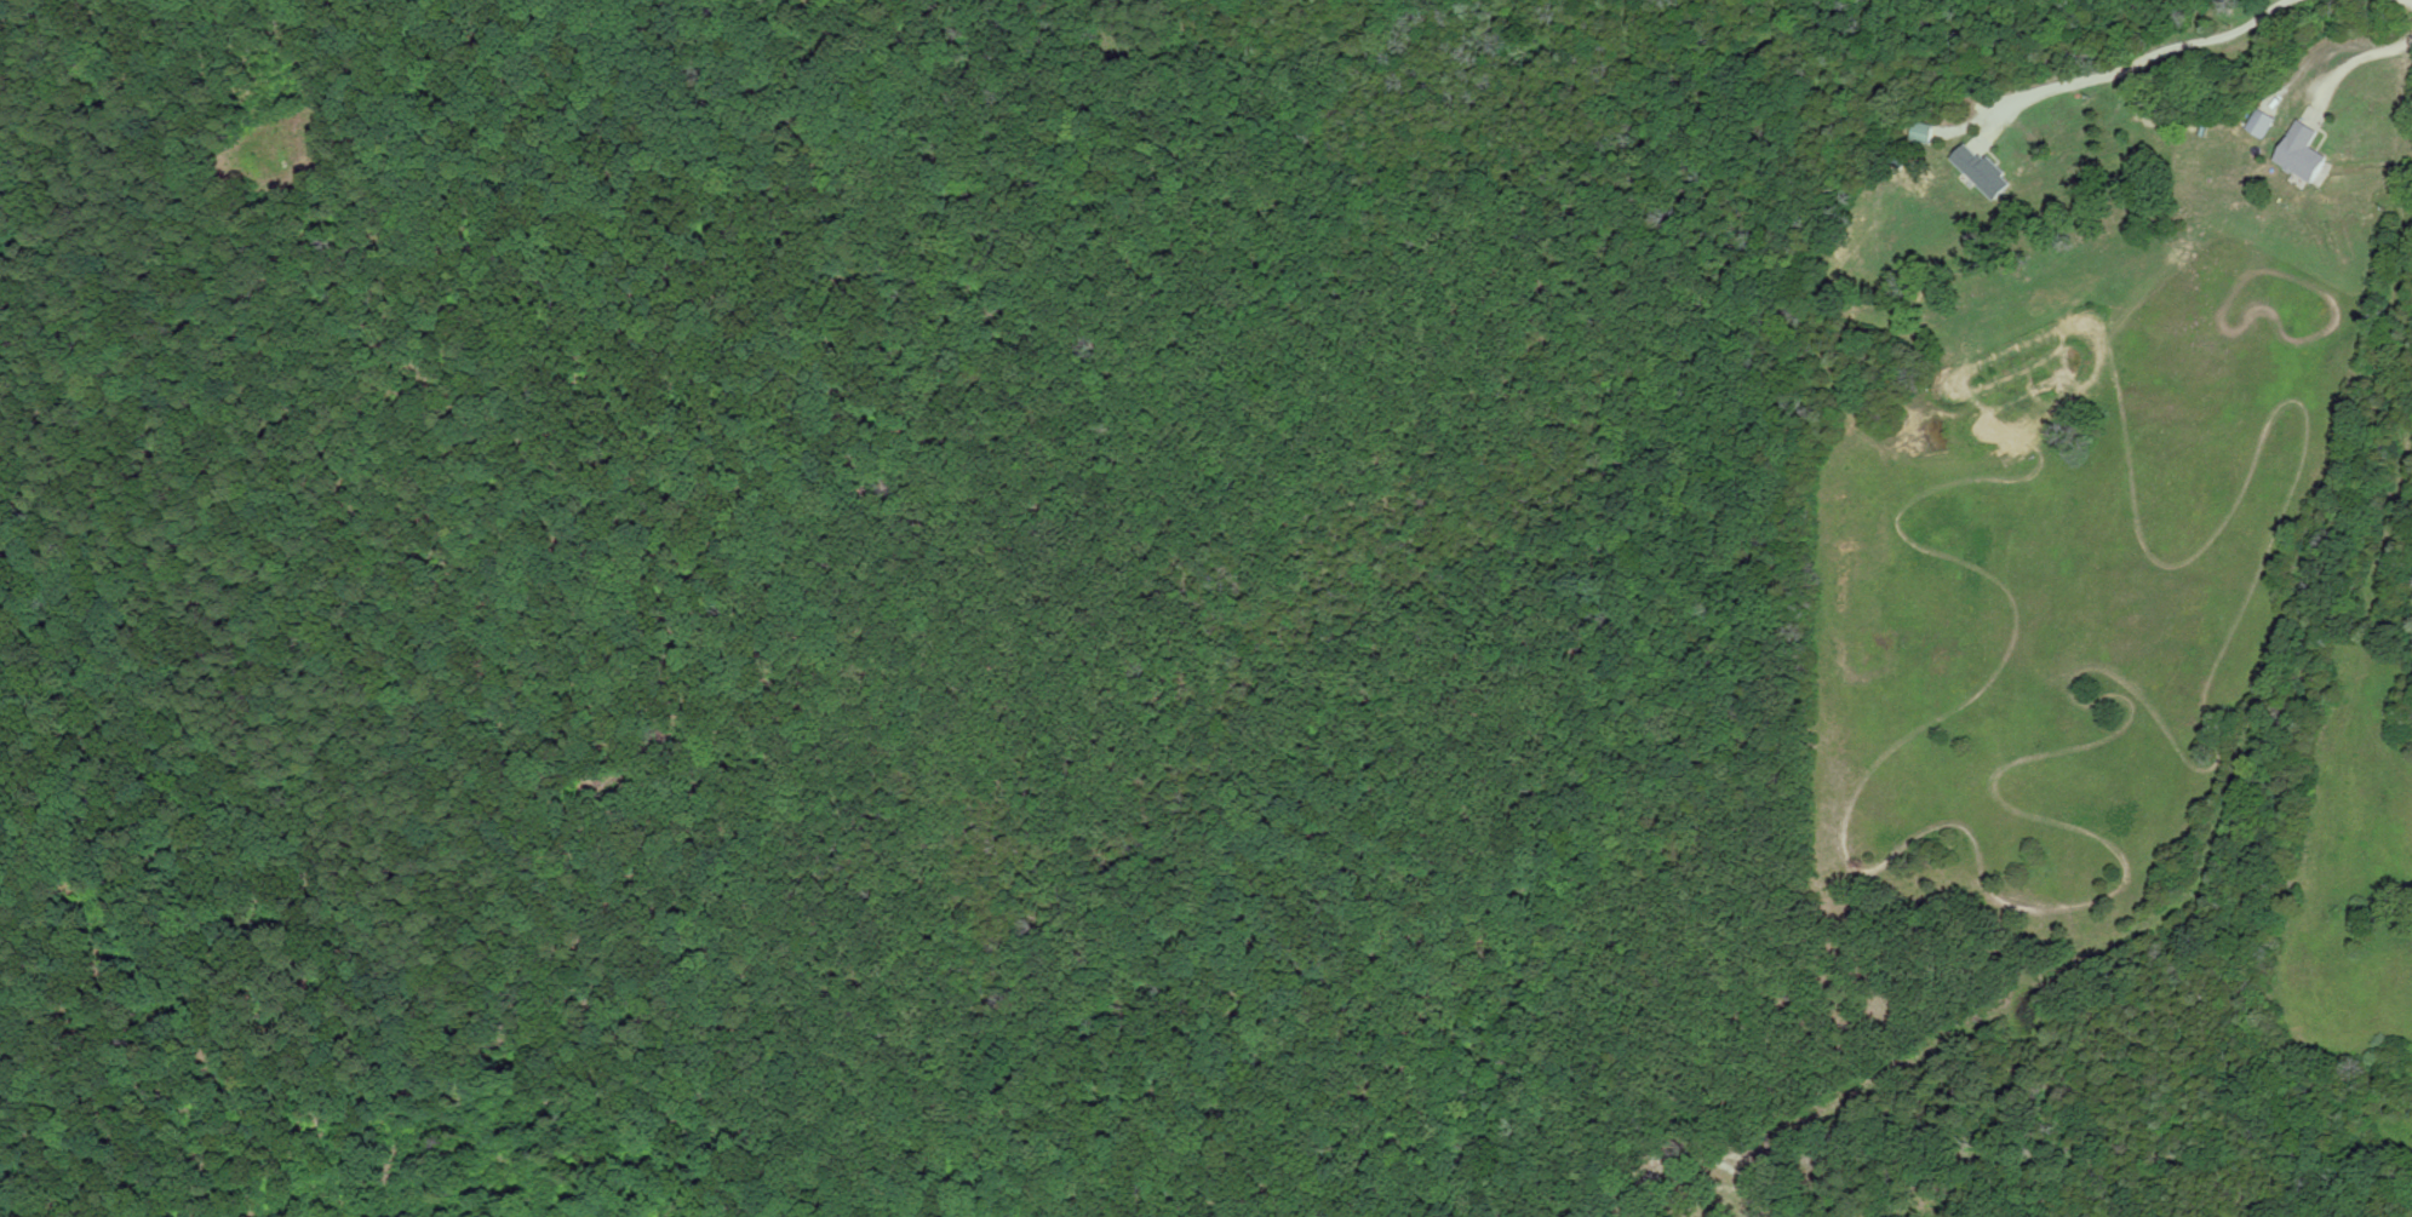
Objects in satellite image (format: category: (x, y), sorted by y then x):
road: (2251, 22)
building: (2261, 125)
building: (1921, 134)
building: (2303, 154)
building: (1981, 171)

